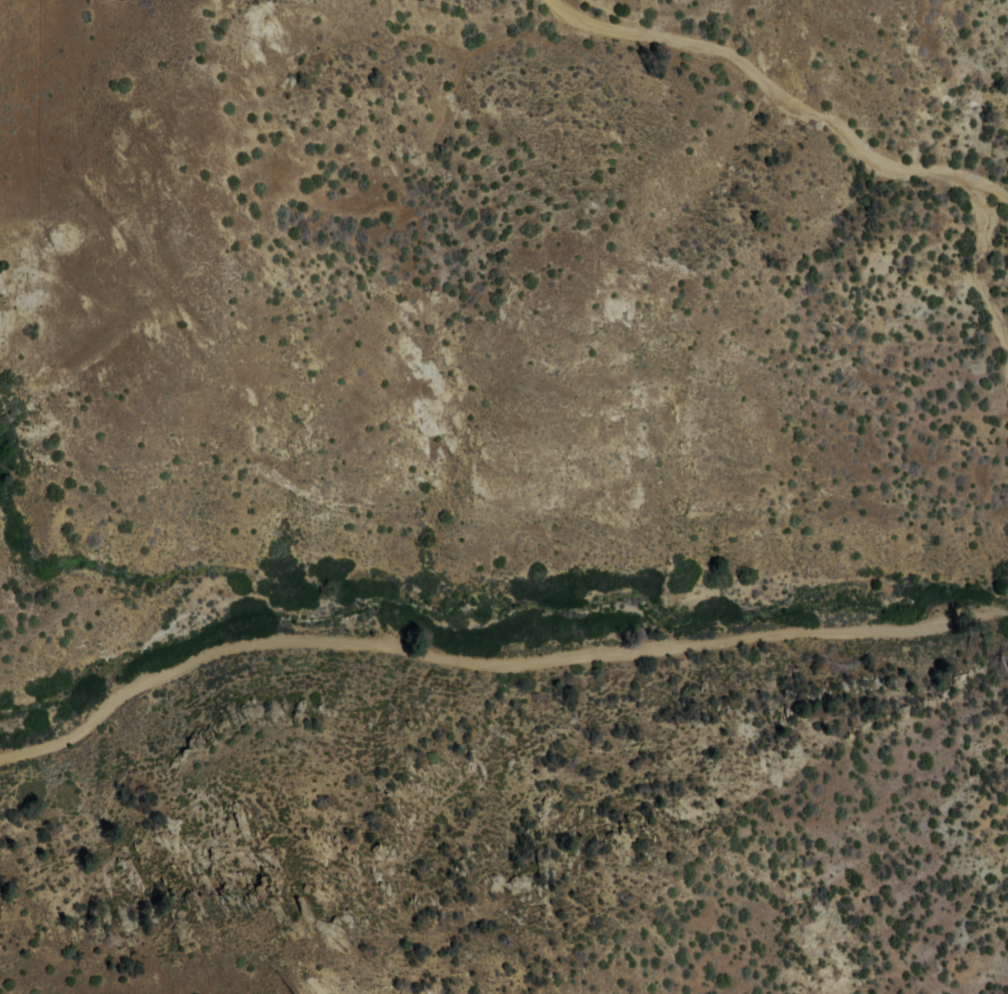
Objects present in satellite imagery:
road: (838, 128)
road: (488, 660)

